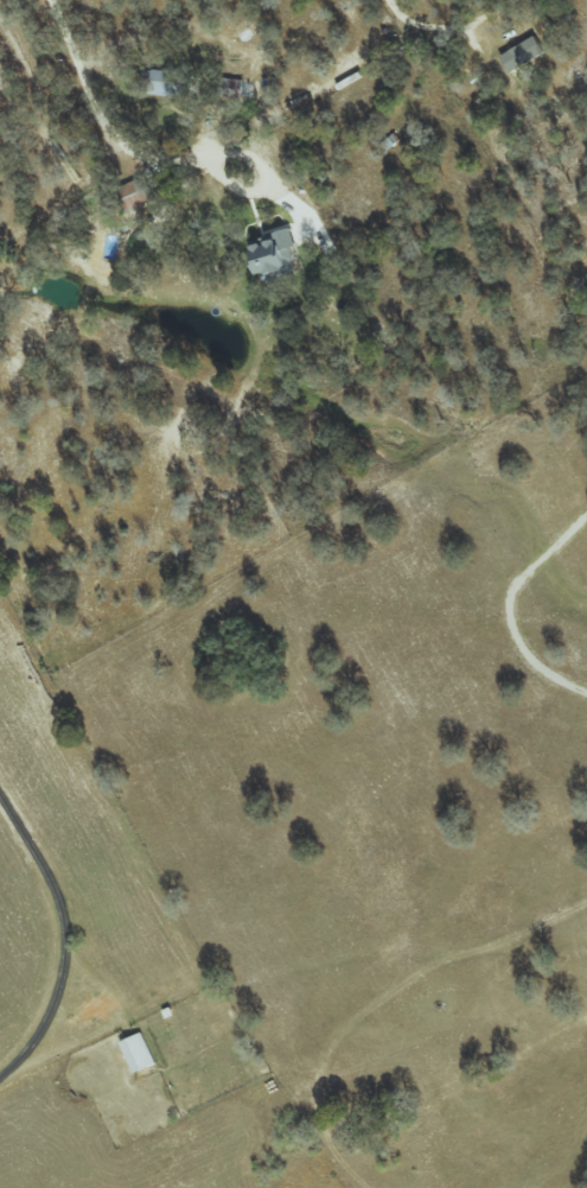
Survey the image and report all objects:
road: (325, 97)
road: (120, 154)
building: (274, 254)
road: (510, 603)
road: (66, 935)
building: (136, 1053)

